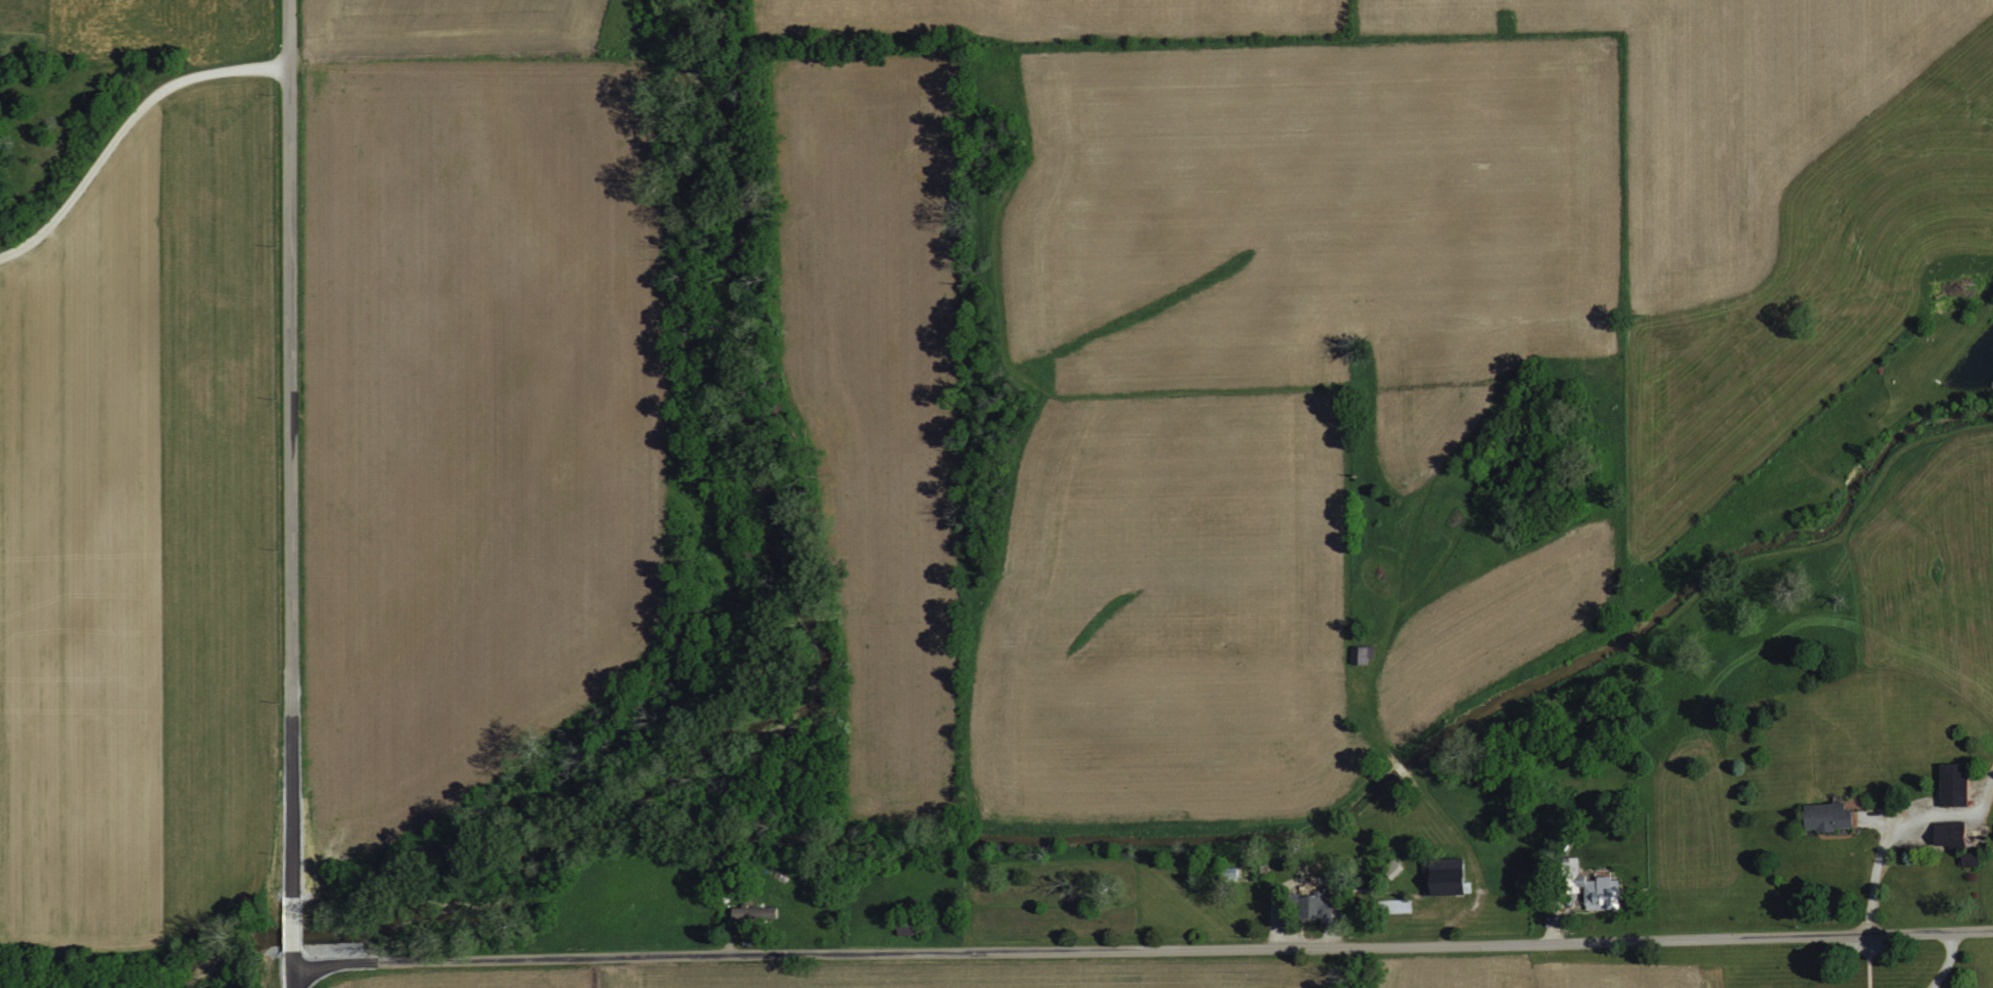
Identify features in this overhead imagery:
road: (123, 127)
road: (289, 442)
building: (1952, 784)
building: (1827, 816)
building: (1944, 832)
building: (1391, 868)
building: (1593, 886)
building: (1394, 905)
building: (1315, 908)
building: (753, 912)
road: (294, 916)
road: (1142, 951)
road: (1946, 963)
road: (294, 968)

